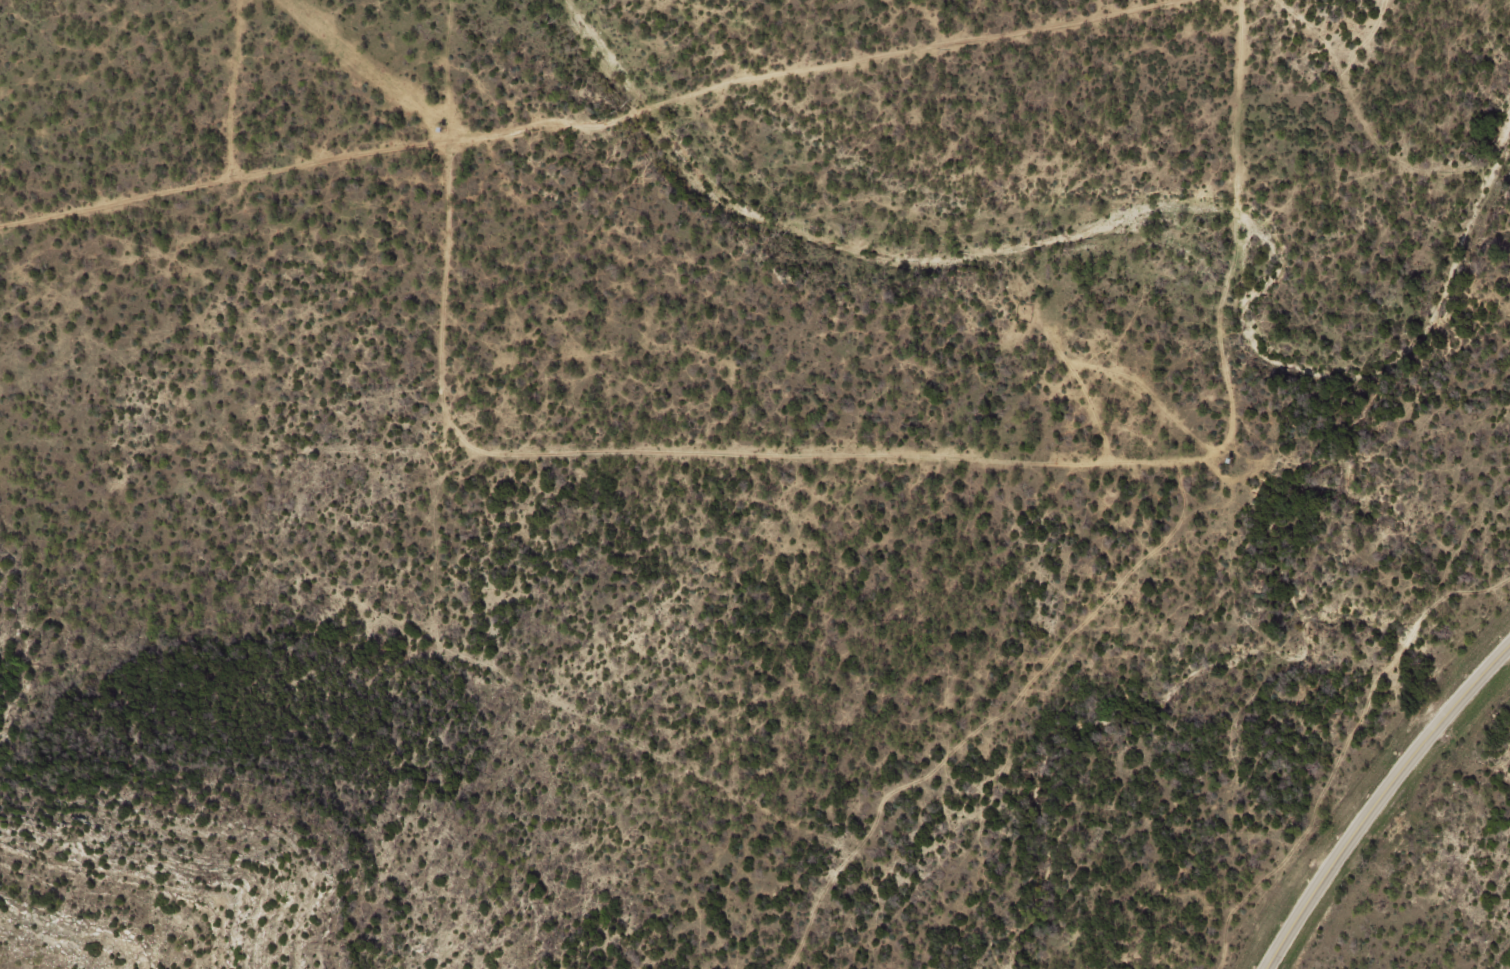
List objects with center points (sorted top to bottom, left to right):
road: (1380, 799)

